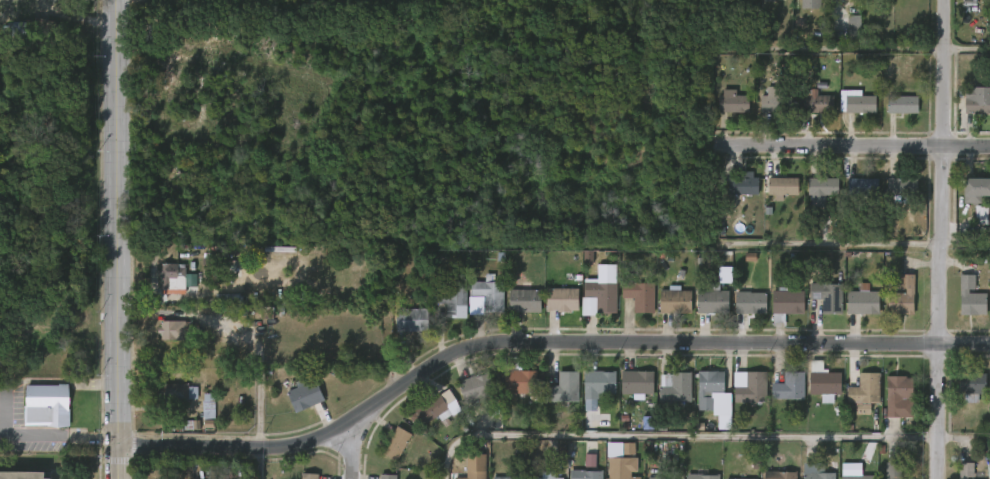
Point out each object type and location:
building: (968, 2)
building: (835, 3)
building: (960, 3)
building: (762, 5)
building: (799, 10)
building: (37, 28)
building: (843, 36)
road: (854, 48)
road: (967, 48)
building: (856, 102)
building: (734, 103)
building: (775, 103)
building: (817, 103)
building: (901, 103)
building: (977, 105)
building: (762, 113)
building: (722, 114)
building: (845, 114)
building: (804, 115)
building: (891, 116)
road: (859, 145)
building: (742, 184)
building: (781, 186)
building: (821, 186)
building: (862, 186)
building: (905, 186)
building: (975, 189)
building: (733, 197)
building: (851, 198)
building: (891, 198)
building: (968, 199)
building: (772, 200)
building: (810, 202)
building: (970, 227)
road: (115, 239)
road: (941, 239)
road: (965, 239)
road: (834, 244)
building: (173, 275)
building: (165, 289)
building: (487, 295)
road: (183, 296)
building: (638, 296)
building: (970, 296)
building: (826, 297)
building: (902, 297)
building: (598, 298)
building: (560, 300)
building: (674, 300)
building: (712, 300)
building: (523, 301)
building: (863, 301)
building: (451, 302)
building: (749, 302)
building: (785, 304)
building: (478, 305)
building: (629, 307)
building: (892, 308)
building: (960, 309)
building: (819, 310)
building: (551, 311)
building: (514, 313)
building: (664, 313)
building: (702, 313)
building: (740, 314)
building: (852, 314)
building: (985, 314)
building: (413, 320)
building: (176, 330)
building: (401, 331)
building: (165, 342)
road: (539, 342)
road: (48, 380)
building: (518, 380)
building: (709, 381)
building: (597, 382)
building: (635, 383)
building: (822, 383)
building: (972, 386)
building: (474, 387)
building: (788, 387)
building: (673, 388)
building: (750, 388)
building: (863, 388)
building: (561, 390)
building: (178, 392)
building: (510, 393)
building: (306, 394)
building: (626, 395)
building: (896, 395)
building: (962, 395)
building: (985, 395)
building: (814, 397)
building: (465, 399)
building: (587, 399)
building: (664, 399)
building: (778, 399)
building: (741, 400)
building: (701, 403)
building: (168, 404)
building: (853, 404)
building: (44, 405)
building: (295, 406)
building: (886, 406)
building: (435, 410)
road: (3, 413)
building: (198, 418)
building: (425, 422)
road: (6, 425)
road: (703, 436)
road: (58, 437)
building: (398, 443)
road: (356, 448)
building: (386, 455)
building: (620, 460)
road: (260, 462)
building: (893, 465)
building: (473, 466)
building: (966, 469)
building: (815, 471)
building: (22, 474)
building: (584, 474)
building: (308, 475)
building: (779, 475)
building: (702, 476)
building: (881, 476)
building: (955, 476)
building: (389, 477)
building: (857, 477)
building: (500, 478)

